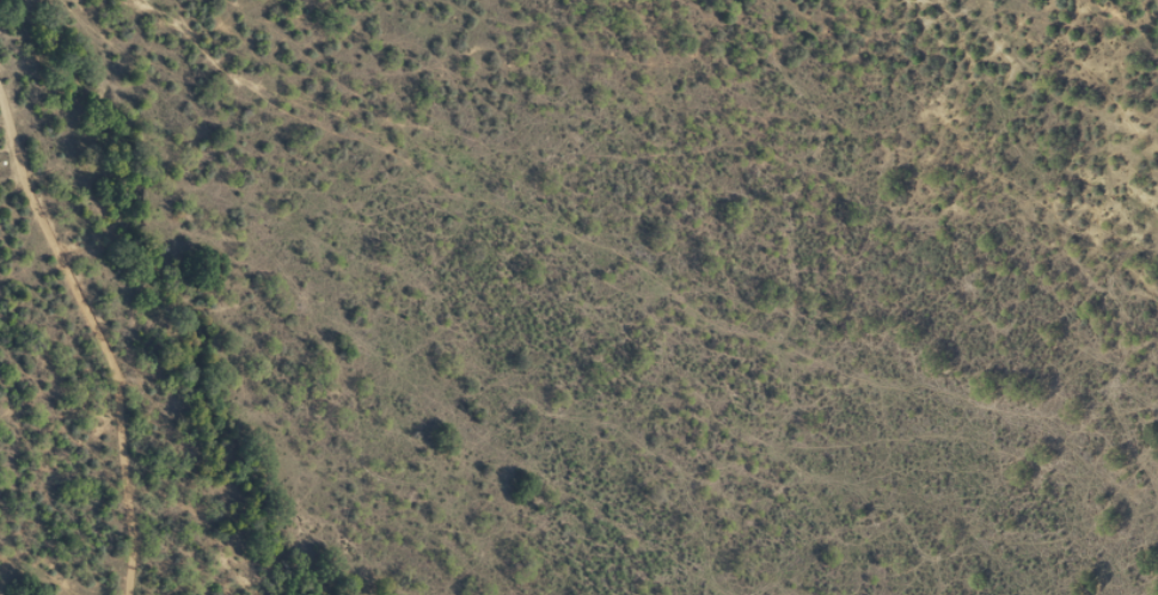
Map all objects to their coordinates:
road: (117, 343)

